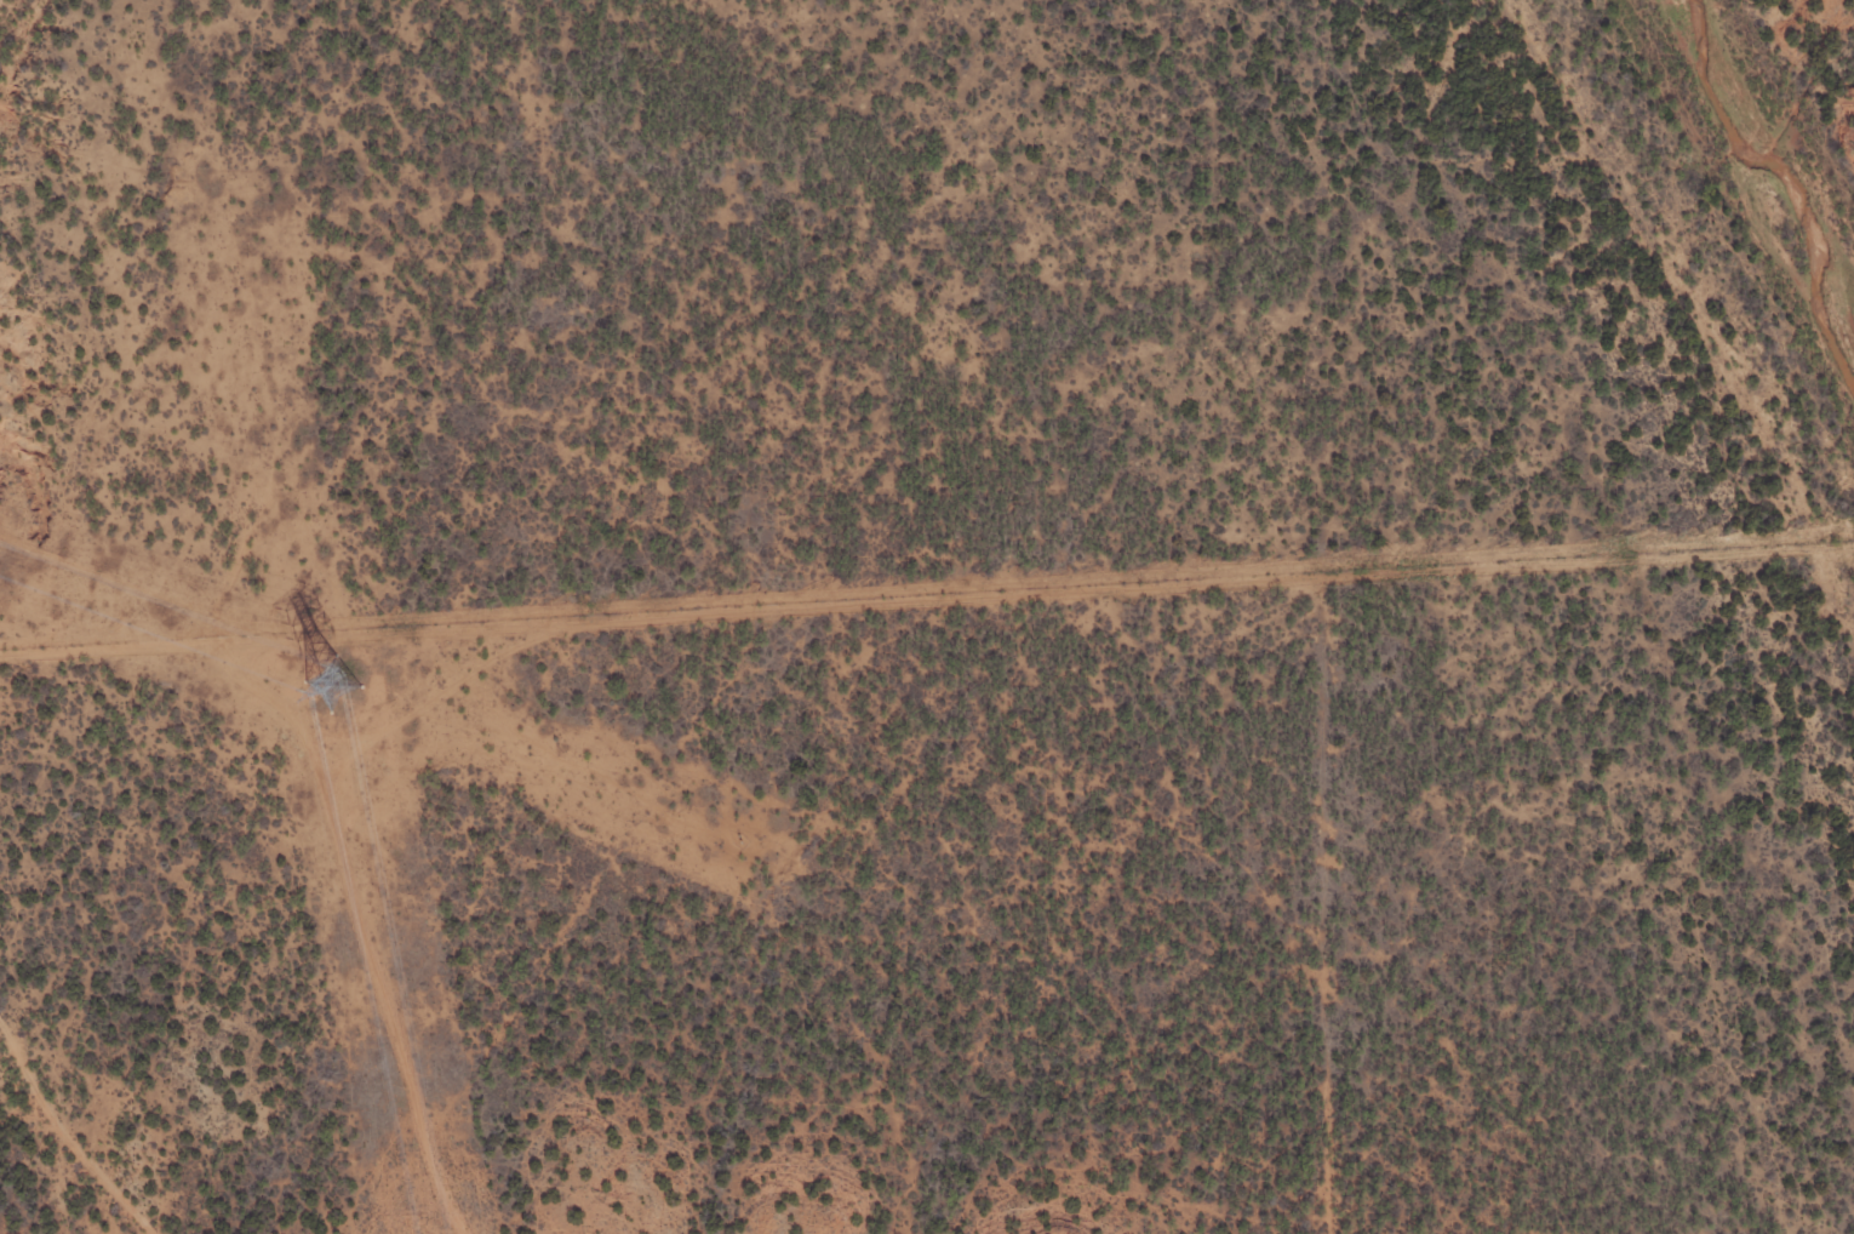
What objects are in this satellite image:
river: (1761, 184)
road: (550, 619)
power tower: (337, 684)

